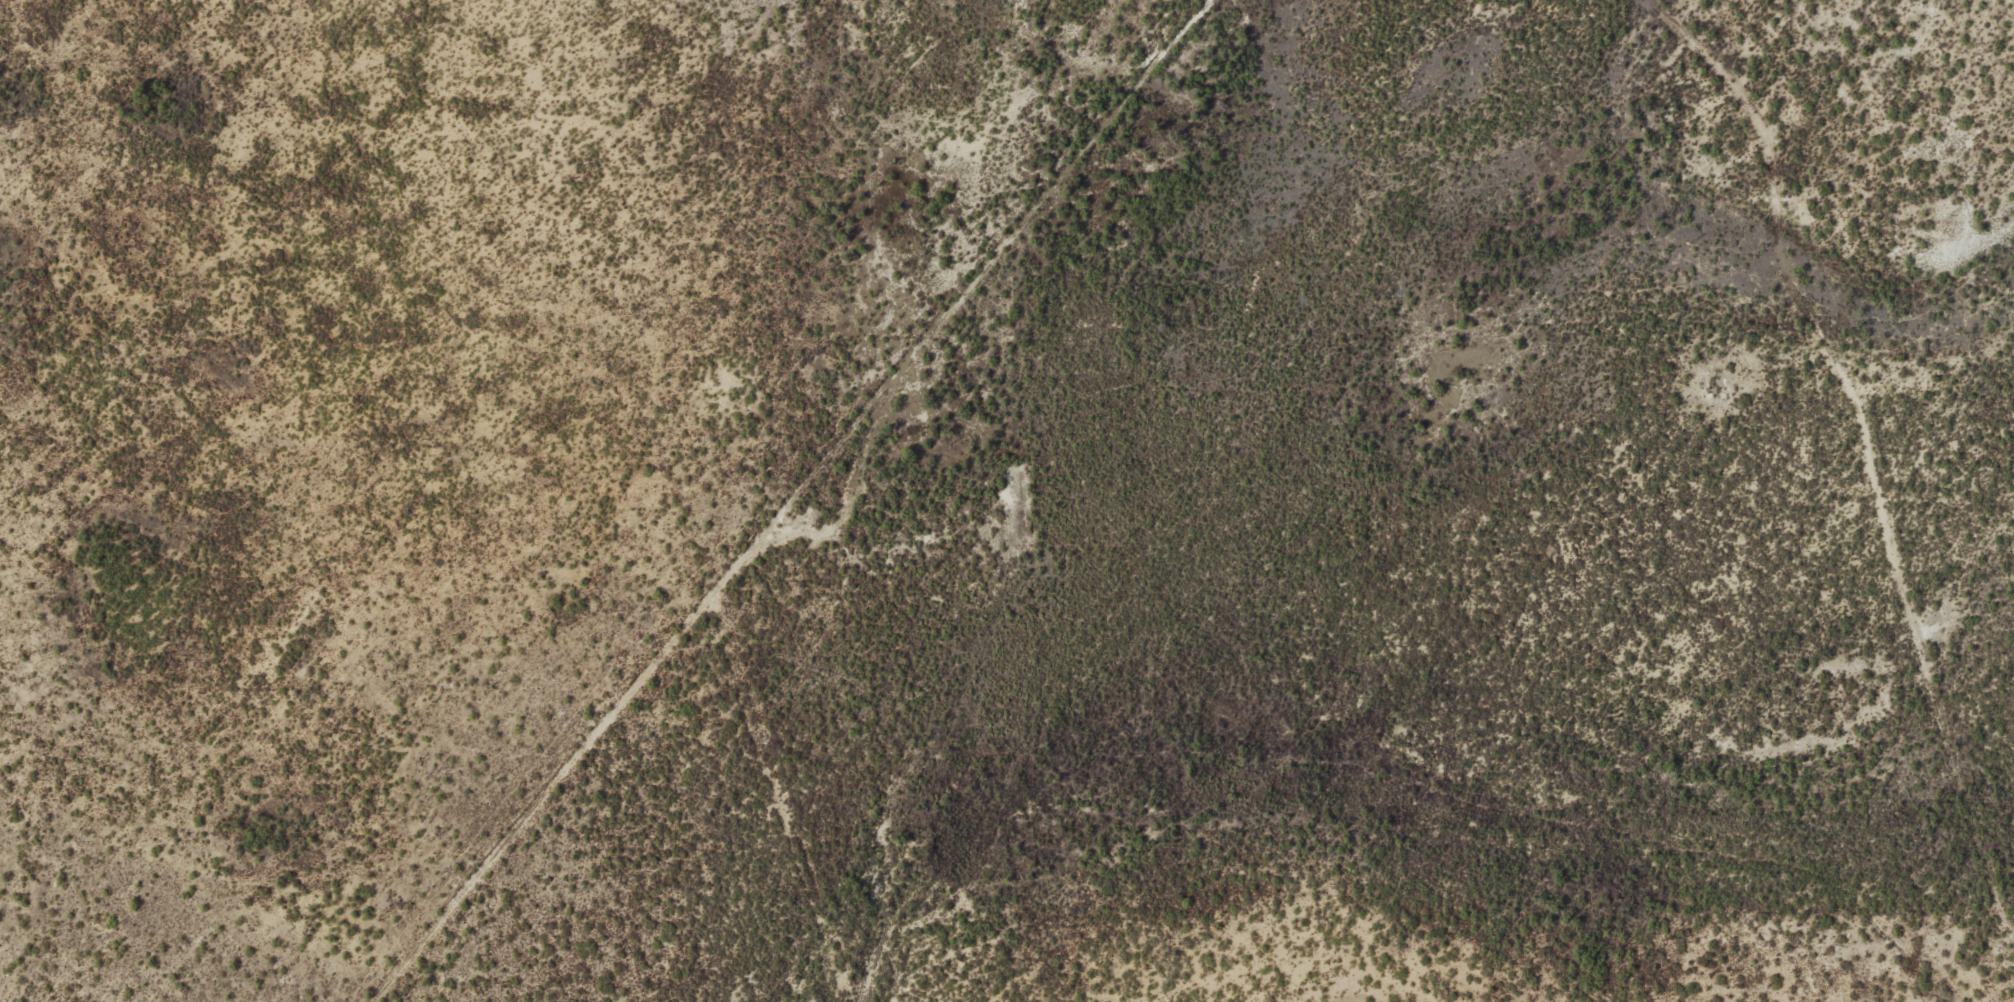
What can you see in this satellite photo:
road: (880, 207)
road: (1866, 442)
road: (828, 537)

